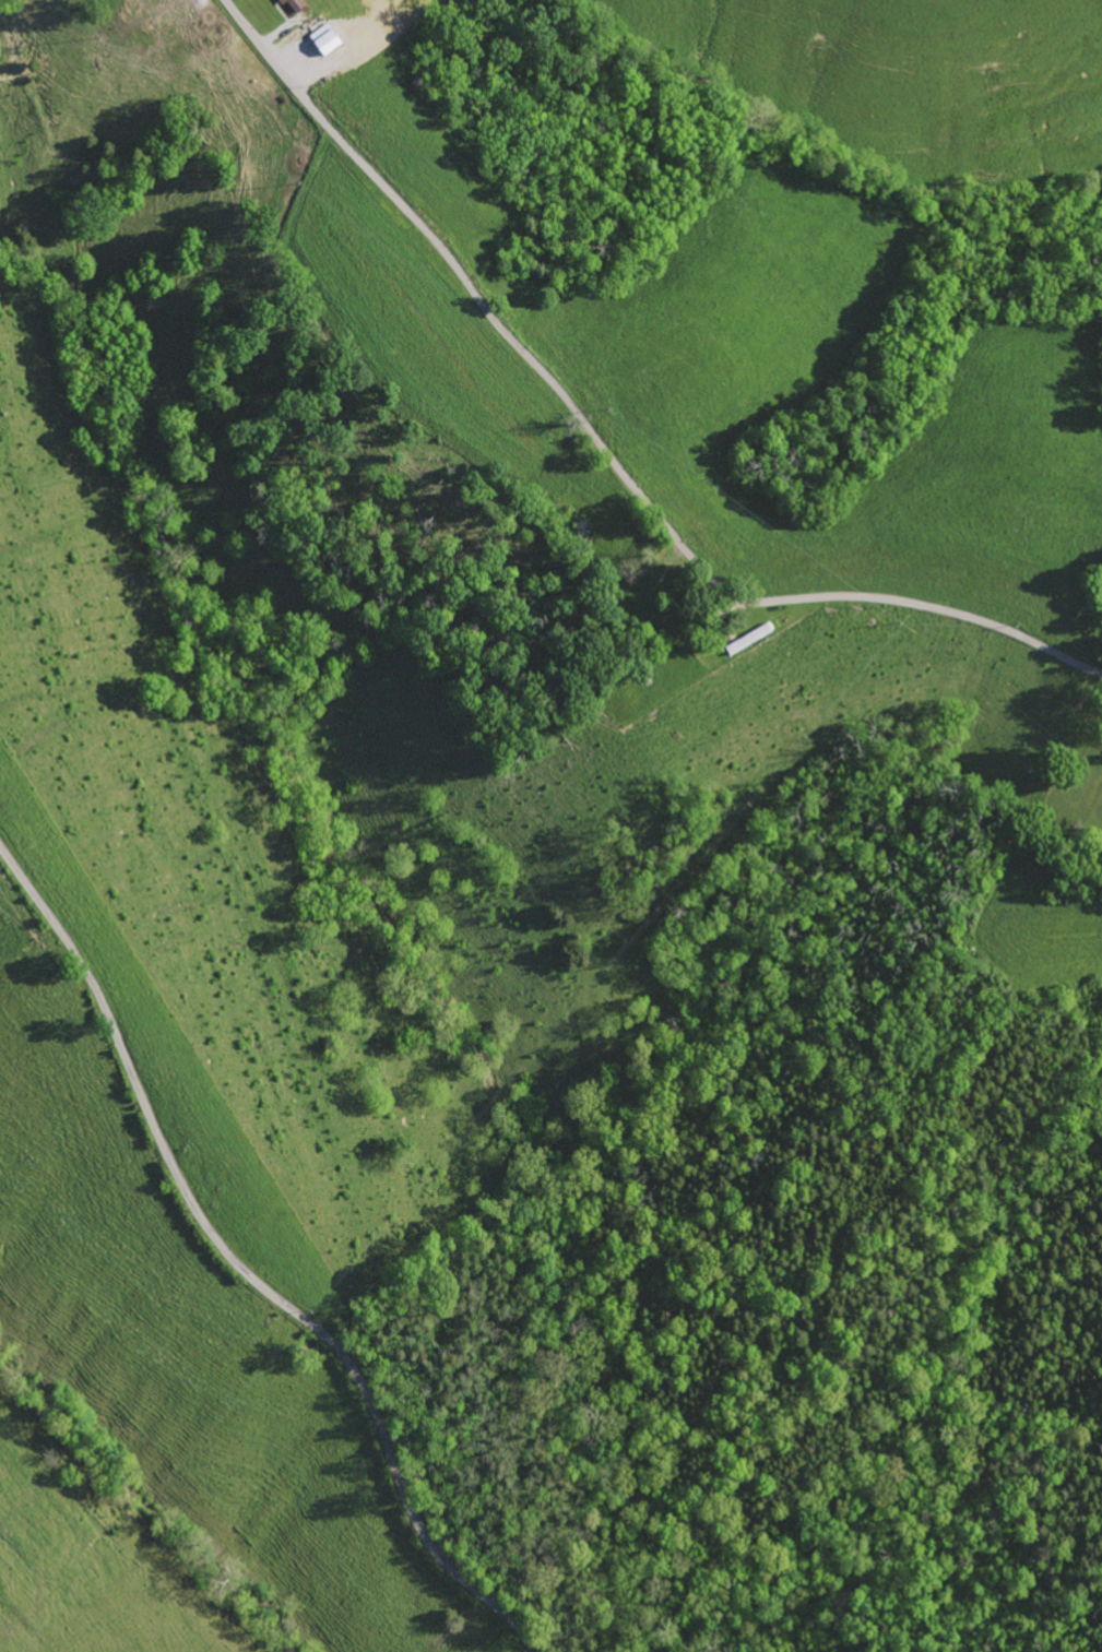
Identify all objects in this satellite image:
building: (289, 4)
building: (322, 39)
road: (602, 445)
road: (242, 1269)

